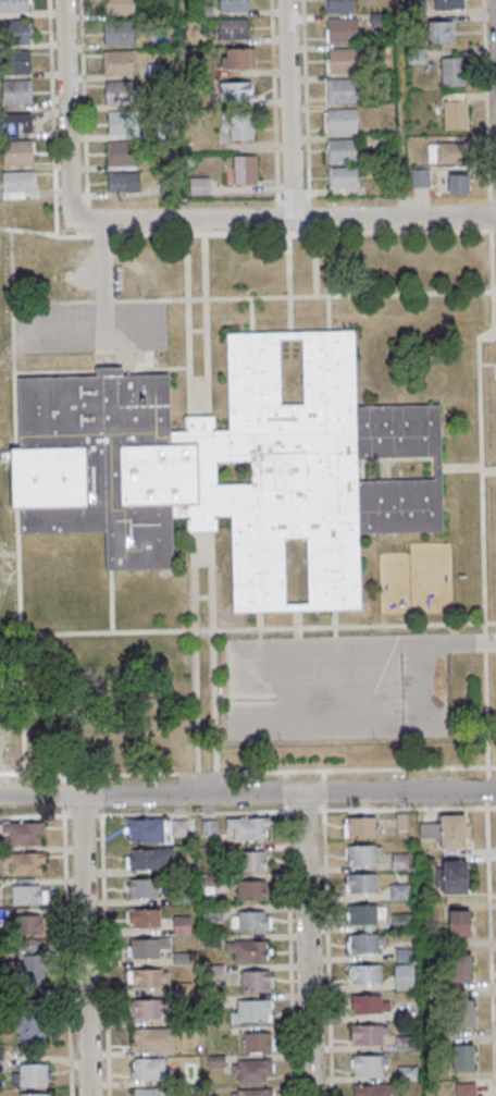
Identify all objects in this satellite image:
building: (232, 4)
building: (448, 4)
building: (338, 5)
building: (14, 7)
building: (121, 7)
building: (233, 28)
building: (342, 30)
building: (14, 32)
building: (441, 33)
building: (119, 34)
building: (238, 58)
building: (344, 60)
building: (16, 62)
building: (117, 63)
building: (451, 71)
building: (15, 91)
building: (237, 91)
building: (340, 91)
building: (120, 93)
road: (274, 100)
road: (289, 109)
road: (66, 111)
building: (456, 114)
road: (306, 115)
building: (340, 121)
building: (15, 122)
building: (124, 123)
building: (241, 126)
building: (342, 151)
building: (16, 152)
building: (120, 152)
building: (447, 152)
building: (245, 170)
building: (342, 177)
building: (419, 177)
building: (17, 182)
building: (123, 182)
building: (458, 184)
building: (198, 187)
road: (282, 220)
road: (244, 233)
road: (314, 264)
road: (286, 283)
road: (102, 285)
road: (494, 292)
road: (251, 297)
road: (327, 315)
road: (250, 316)
road: (88, 323)
road: (186, 324)
road: (204, 324)
road: (196, 330)
road: (494, 333)
road: (12, 340)
road: (156, 367)
road: (53, 370)
road: (480, 426)
road: (469, 467)
building: (114, 473)
park: (7, 537)
road: (202, 598)
road: (110, 602)
road: (257, 628)
road: (334, 631)
road: (296, 632)
road: (259, 633)
road: (20, 640)
road: (484, 642)
road: (458, 645)
road: (194, 653)
road: (212, 653)
parking lot: (337, 687)
road: (485, 711)
road: (248, 732)
road: (491, 767)
road: (243, 769)
road: (485, 788)
road: (247, 795)
road: (489, 808)
road: (302, 812)
building: (401, 822)
building: (179, 827)
building: (208, 827)
building: (361, 827)
building: (247, 828)
building: (145, 830)
building: (446, 832)
building: (22, 833)
building: (363, 857)
building: (149, 858)
building: (252, 860)
building: (399, 861)
building: (23, 862)
road: (485, 871)
building: (451, 876)
building: (361, 885)
building: (142, 887)
building: (251, 889)
building: (27, 891)
building: (400, 892)
building: (212, 912)
building: (364, 915)
building: (145, 918)
building: (250, 920)
building: (459, 923)
building: (29, 924)
building: (182, 925)
road: (309, 945)
building: (368, 945)
road: (84, 946)
building: (150, 947)
building: (246, 950)
road: (325, 953)
building: (33, 964)
building: (459, 968)
building: (364, 975)
building: (404, 977)
building: (148, 978)
building: (256, 980)
building: (370, 1006)
building: (149, 1009)
building: (252, 1011)
building: (462, 1012)
building: (32, 1030)
building: (369, 1035)
building: (152, 1038)
building: (257, 1042)
building: (406, 1043)
building: (463, 1058)
building: (369, 1066)
building: (150, 1070)
building: (253, 1071)
building: (34, 1076)
building: (467, 1089)
building: (375, 1091)
building: (152, 1092)
building: (252, 1092)
building: (35, 1095)

